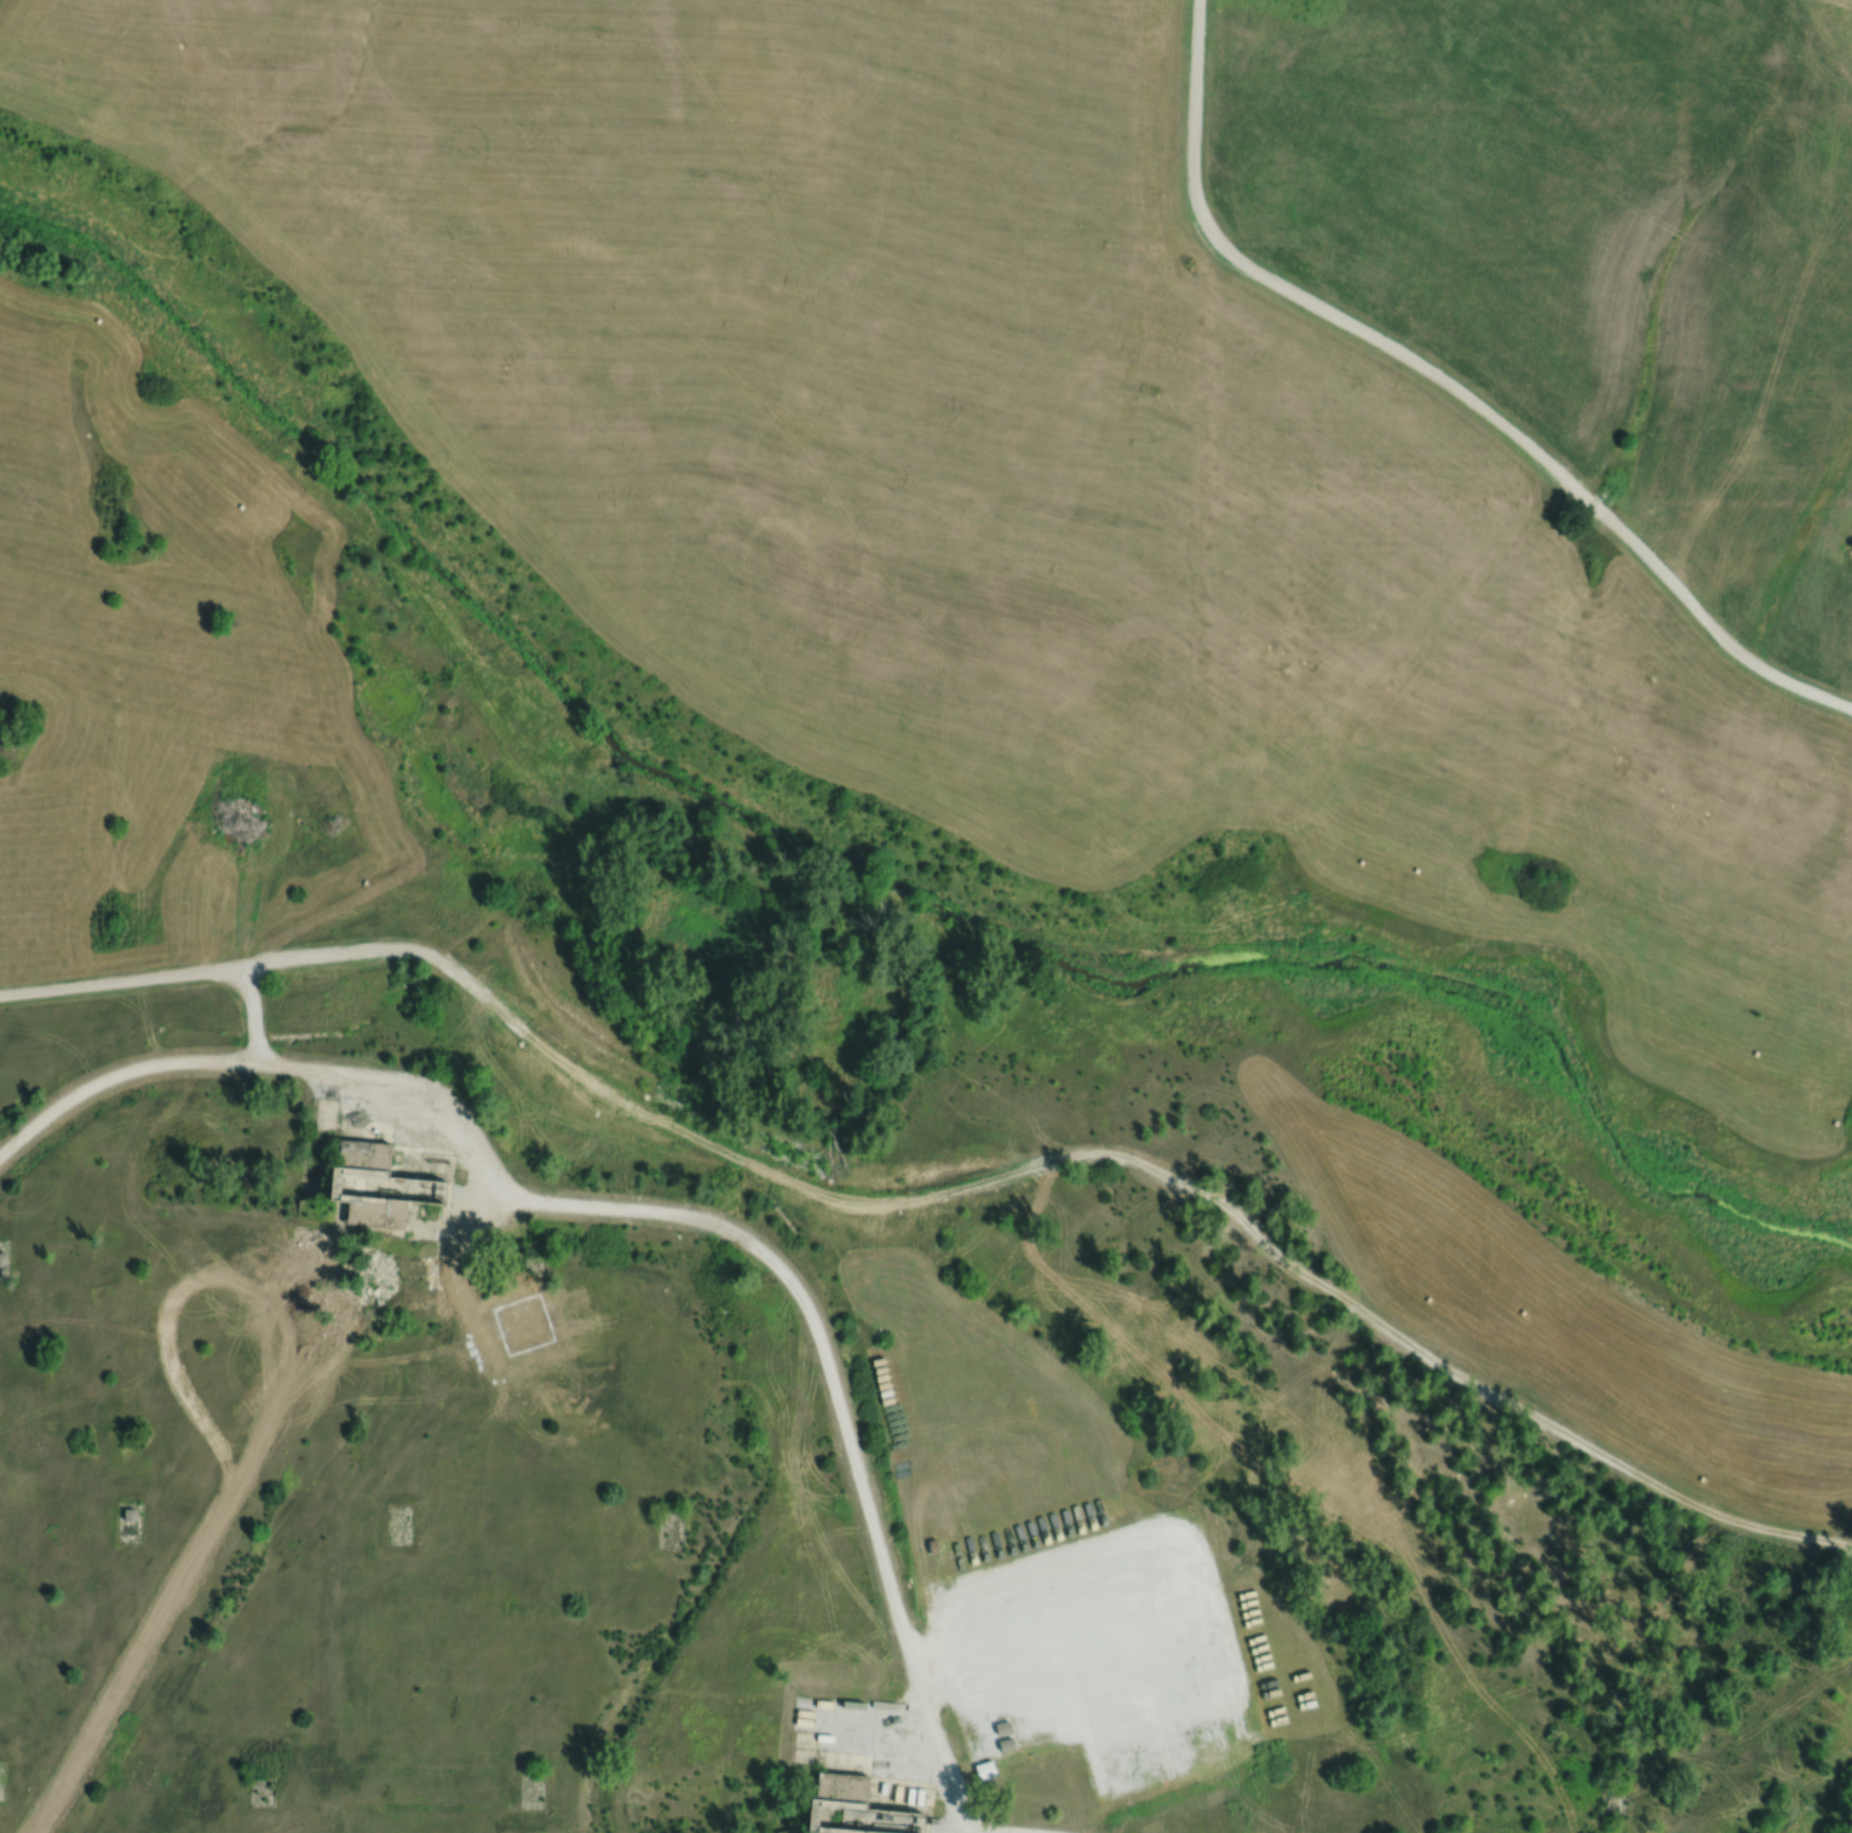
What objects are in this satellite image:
road: (1451, 381)
river: (880, 874)
road: (128, 985)
road: (1024, 1165)
building: (385, 1191)
road: (661, 1220)
road: (432, 1273)
building: (131, 1514)
parking lot: (1098, 1655)
building: (863, 1756)
building: (865, 1803)
building: (783, 1832)
road: (976, 1832)

